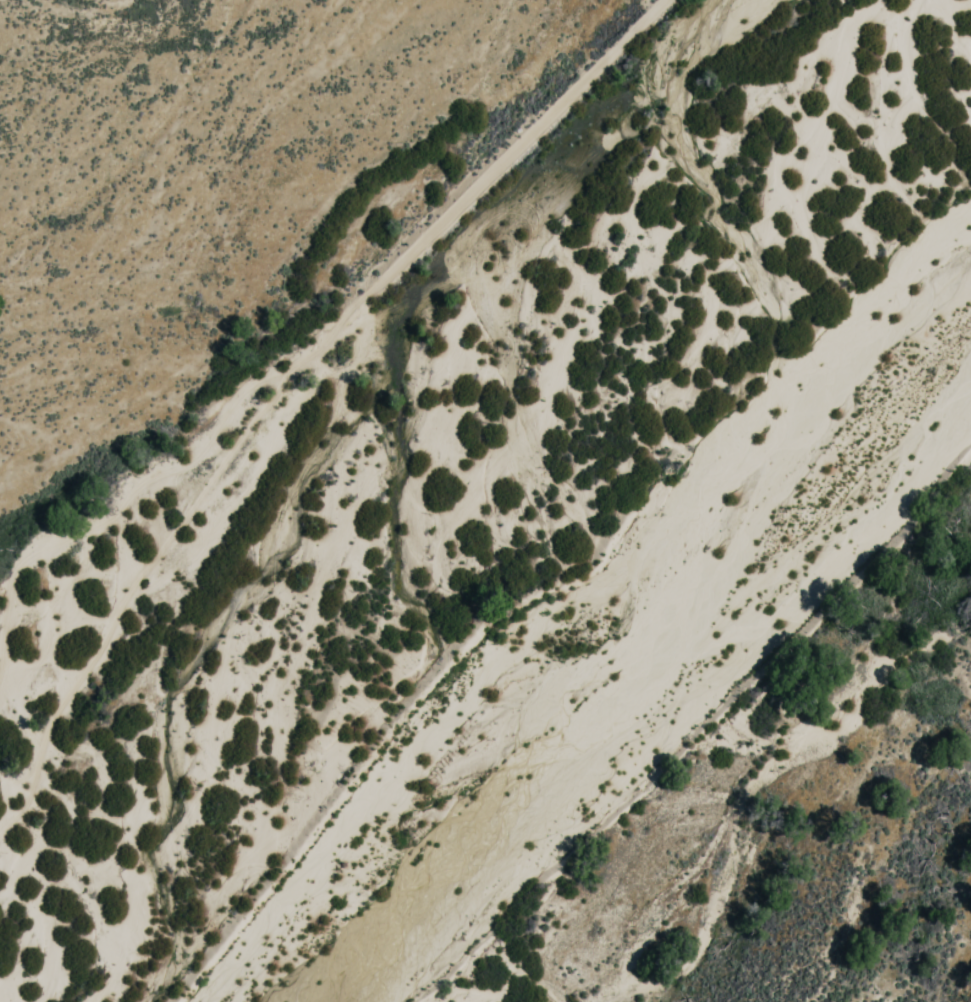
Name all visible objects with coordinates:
river: (754, 785)

